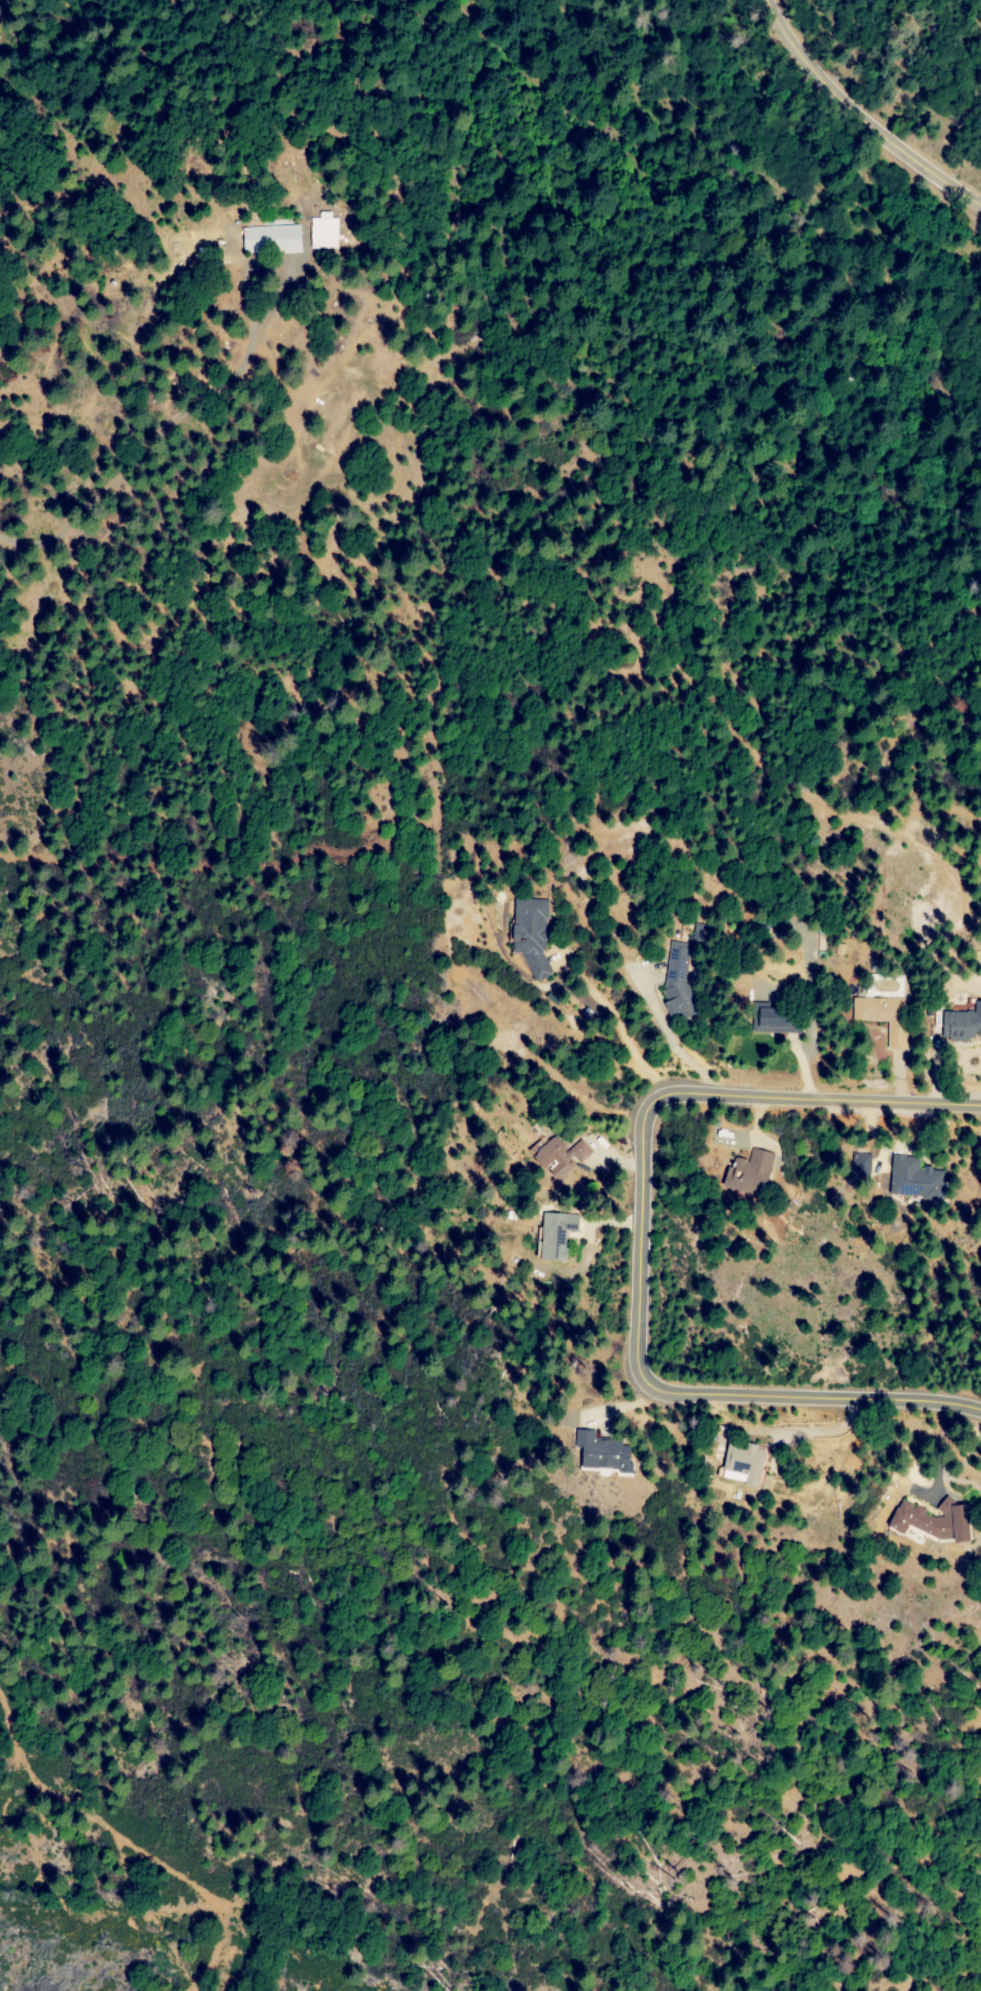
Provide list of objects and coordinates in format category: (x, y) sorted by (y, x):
road: (858, 119)
building: (318, 233)
building: (267, 238)
building: (529, 934)
building: (675, 977)
building: (882, 1015)
building: (771, 1019)
building: (961, 1021)
building: (558, 1156)
building: (860, 1163)
building: (747, 1172)
building: (912, 1177)
building: (553, 1233)
road: (641, 1247)
building: (600, 1453)
building: (740, 1463)
building: (931, 1519)
road: (125, 1847)

